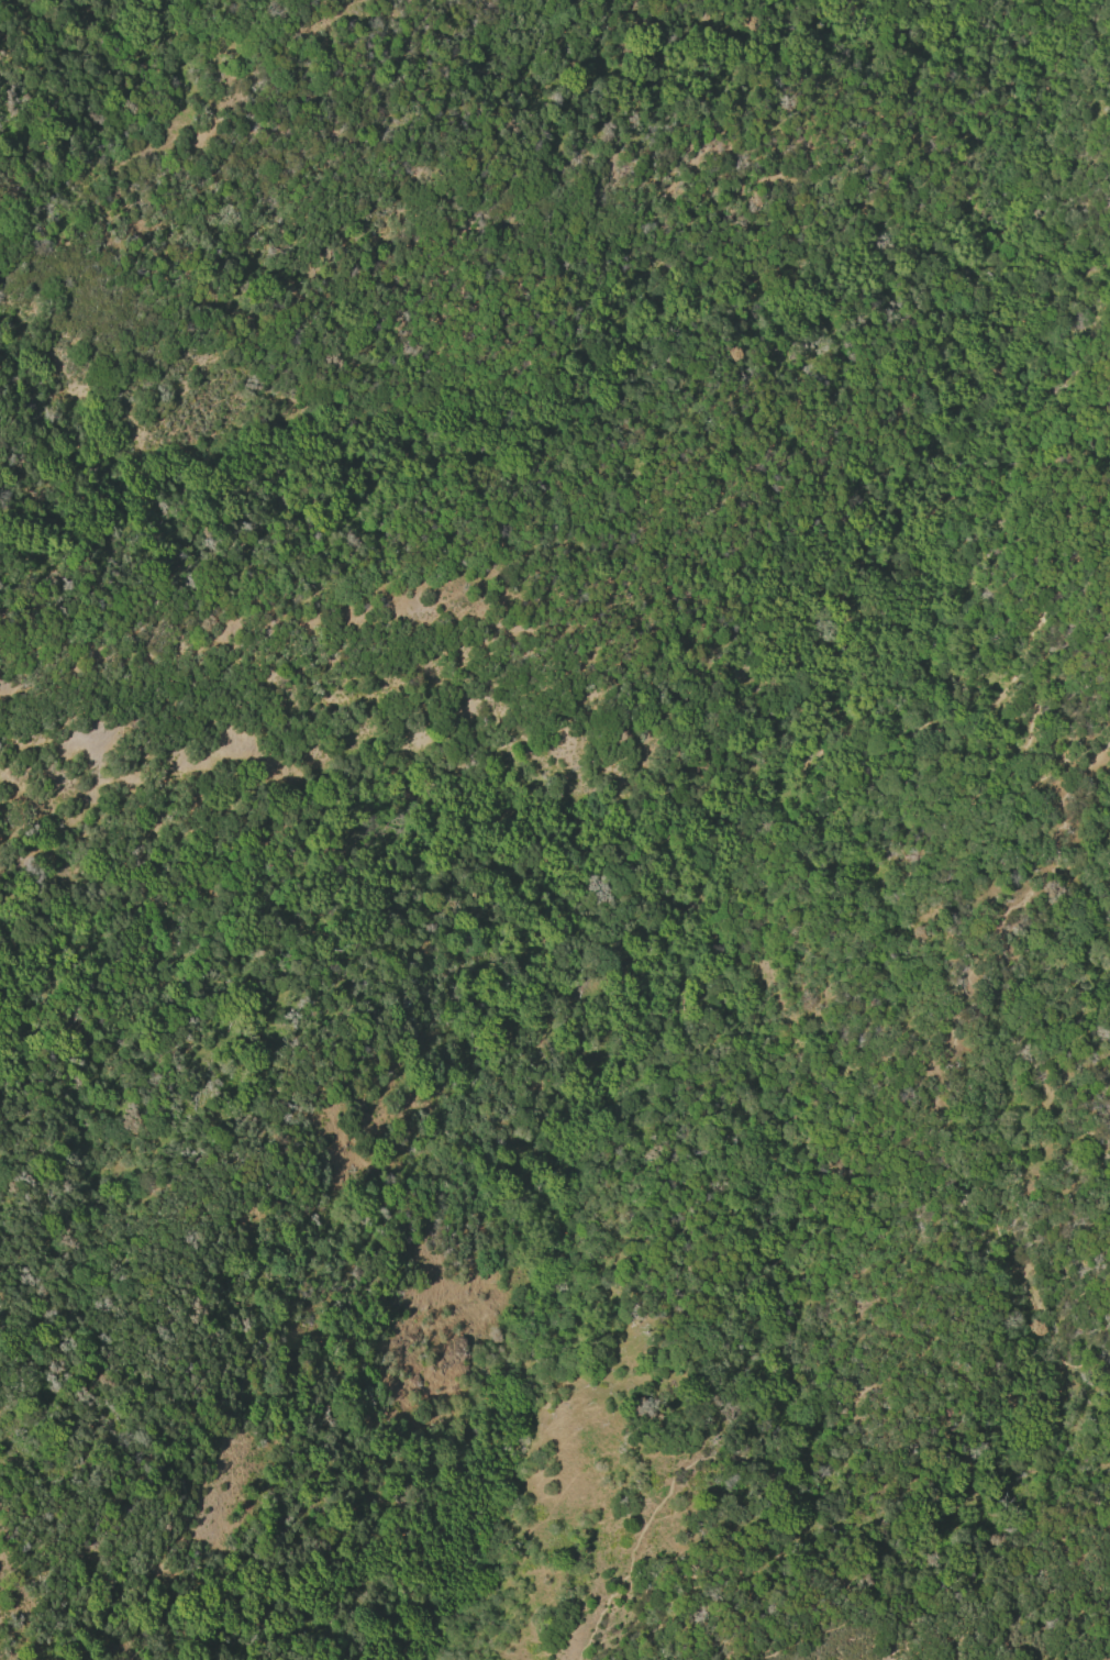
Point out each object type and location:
road: (859, 666)
road: (991, 1048)
road: (845, 1425)
road: (943, 1598)

